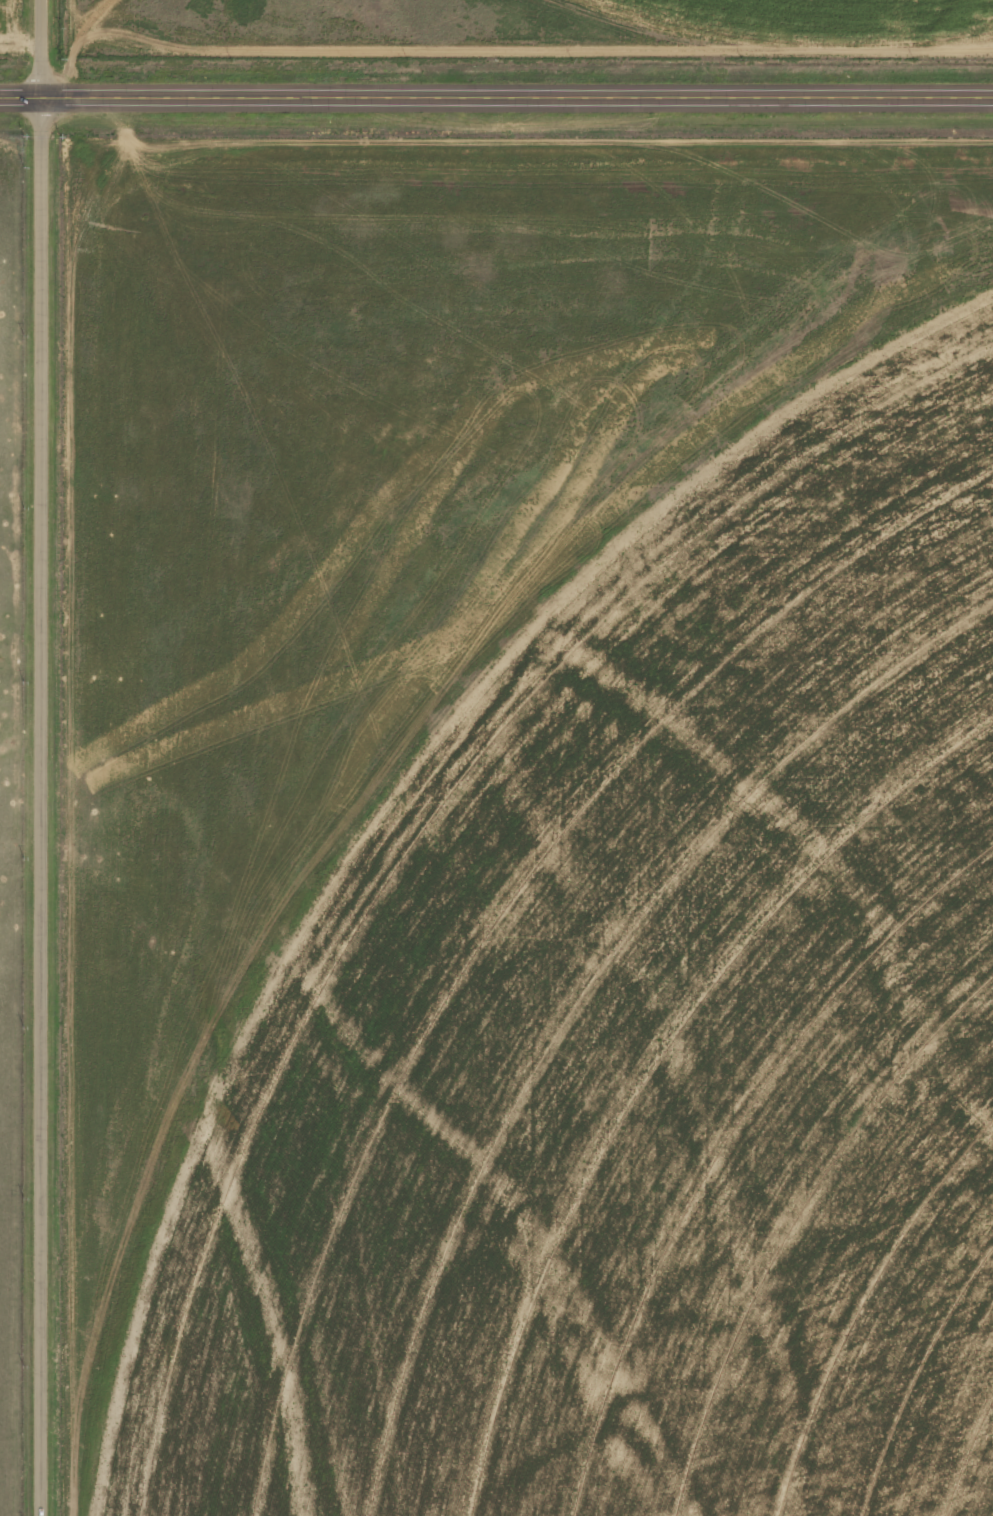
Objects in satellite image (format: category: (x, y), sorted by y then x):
road: (496, 93)
road: (42, 757)

